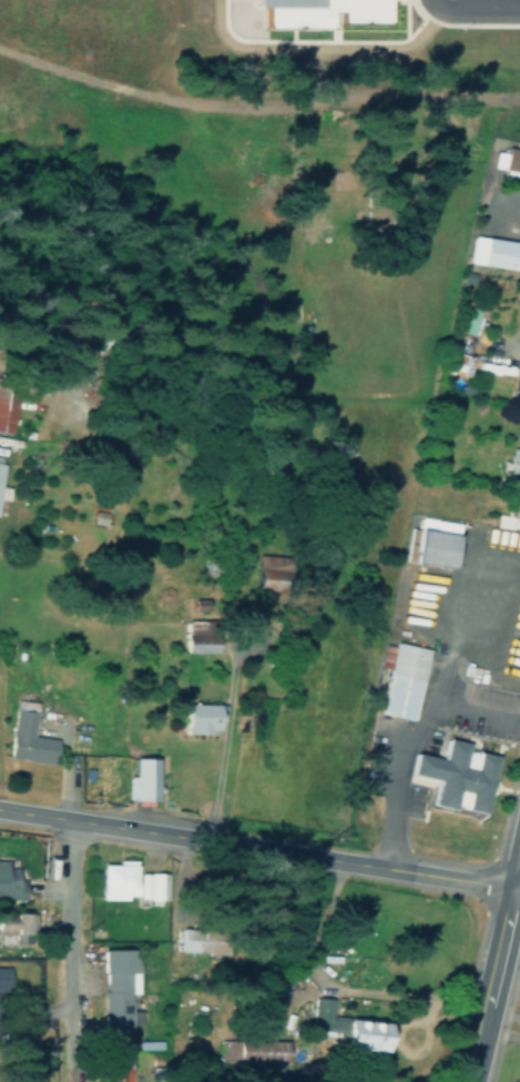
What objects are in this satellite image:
park: (243, 11)
building: (320, 11)
road: (405, 12)
track: (277, 17)
road: (449, 45)
road: (243, 84)
road: (185, 89)
road: (256, 104)
road: (518, 114)
road: (504, 122)
building: (510, 164)
road: (507, 215)
building: (493, 252)
building: (476, 321)
building: (452, 357)
building: (4, 411)
building: (513, 463)
building: (1, 468)
building: (198, 637)
building: (450, 638)
building: (198, 718)
road: (466, 736)
building: (29, 739)
building: (451, 775)
building: (142, 780)
road: (479, 807)
road: (255, 849)
road: (469, 863)
road: (518, 866)
building: (114, 879)
building: (9, 880)
building: (153, 886)
building: (17, 927)
road: (65, 931)
road: (510, 937)
building: (195, 942)
road: (478, 947)
road: (492, 965)
building: (2, 977)
building: (118, 991)
road: (501, 1010)
road: (503, 1018)
building: (339, 1028)
building: (251, 1051)
building: (118, 1070)

